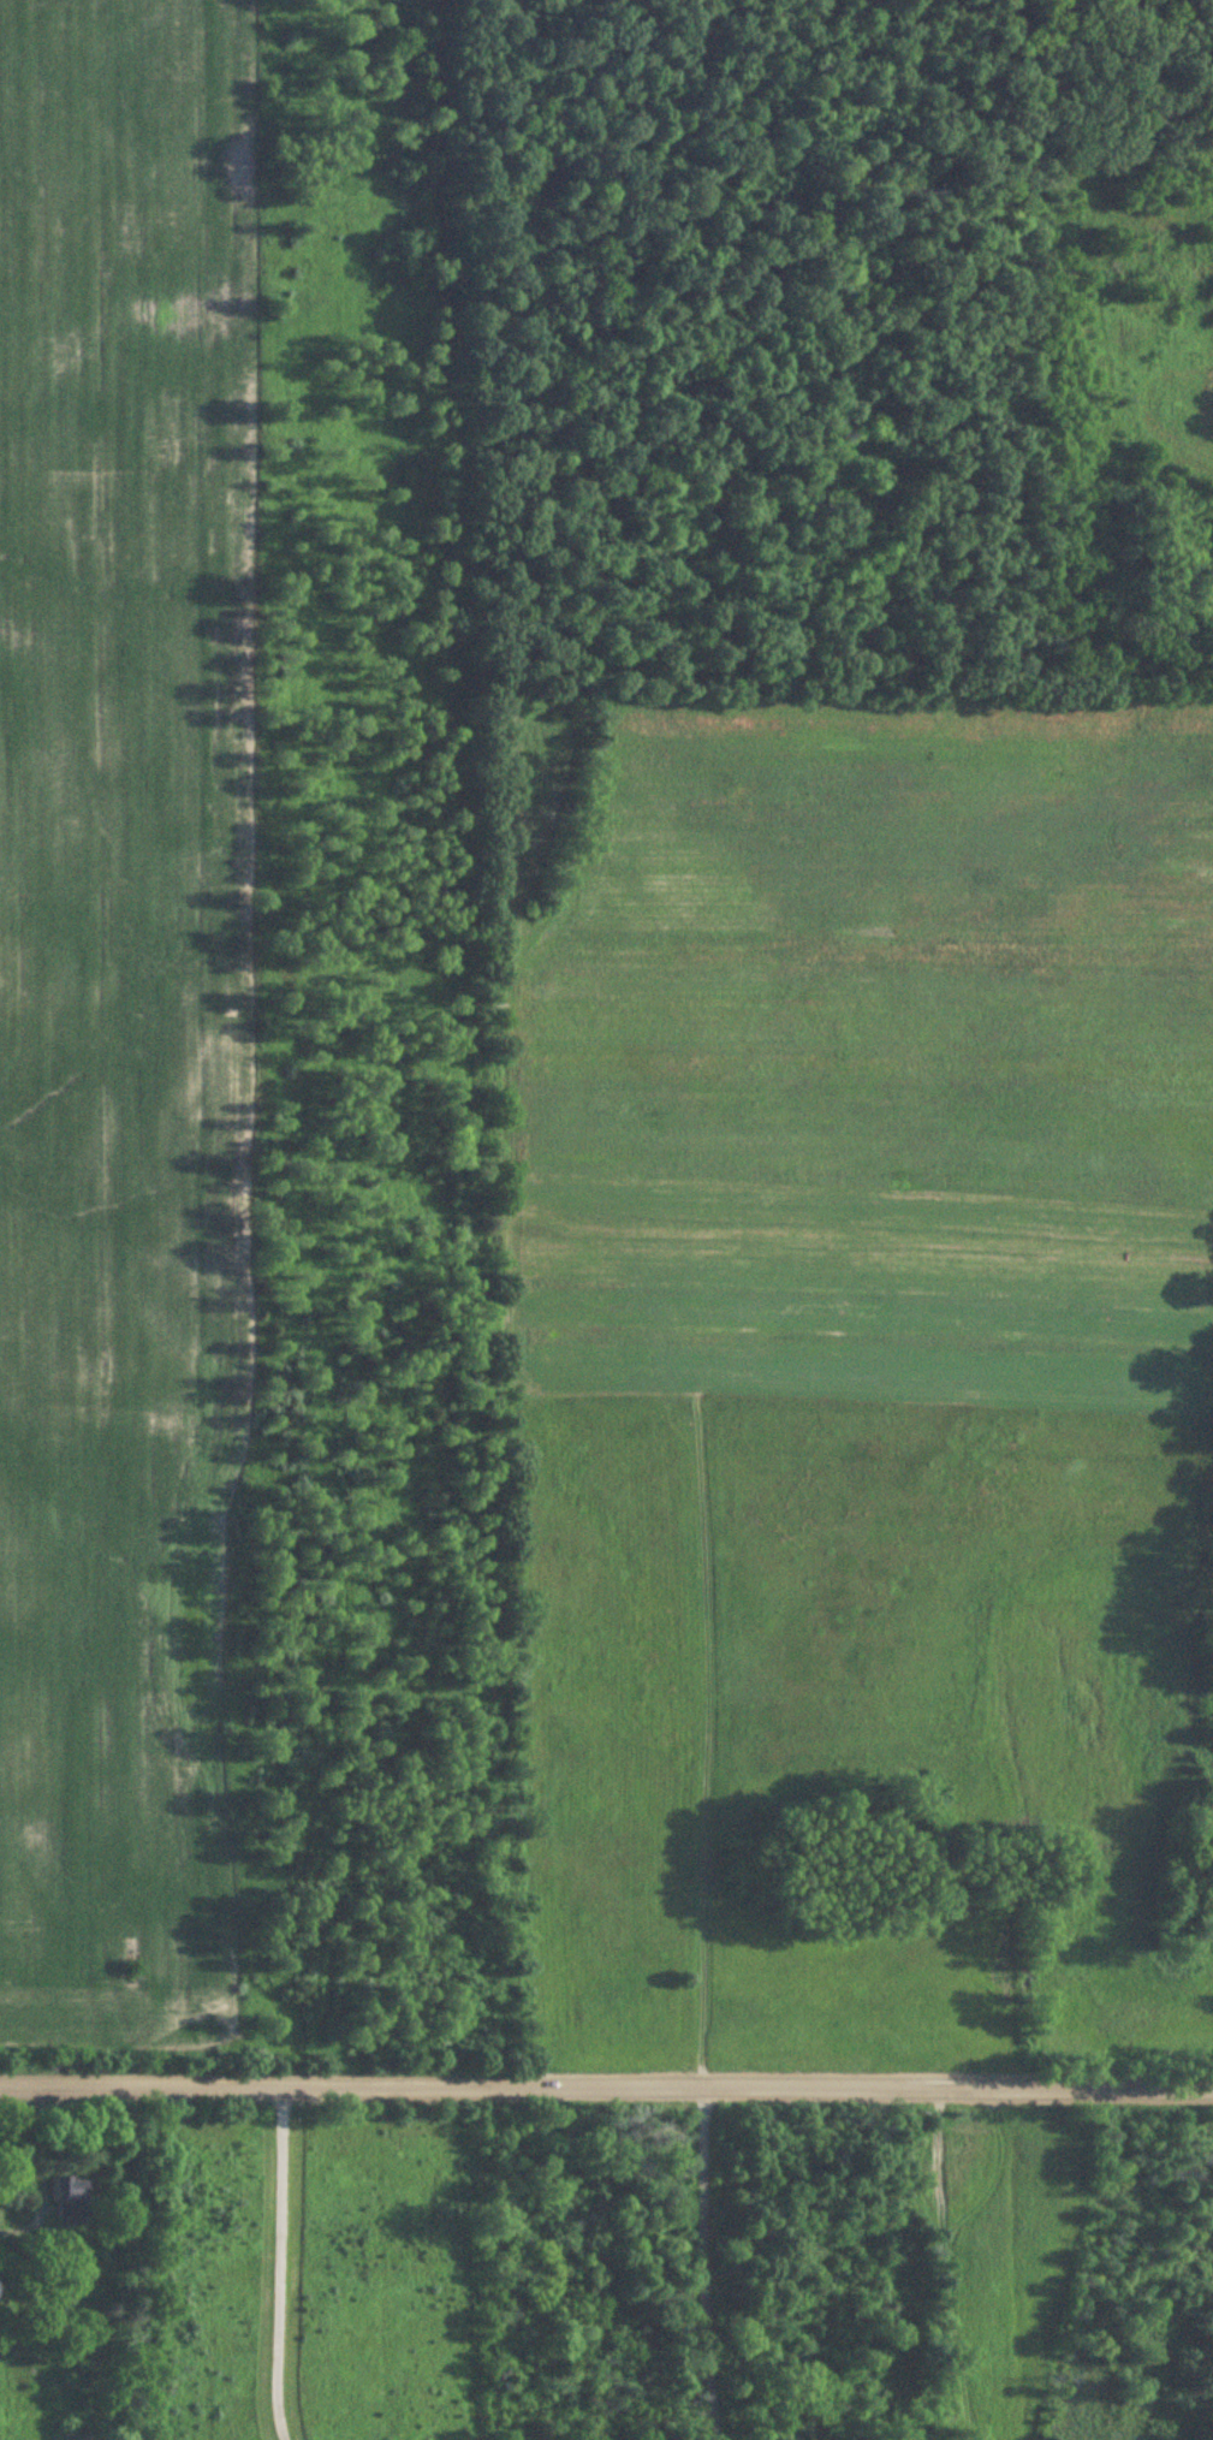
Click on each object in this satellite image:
road: (606, 2074)
building: (73, 2199)
road: (280, 2257)
road: (708, 2257)

